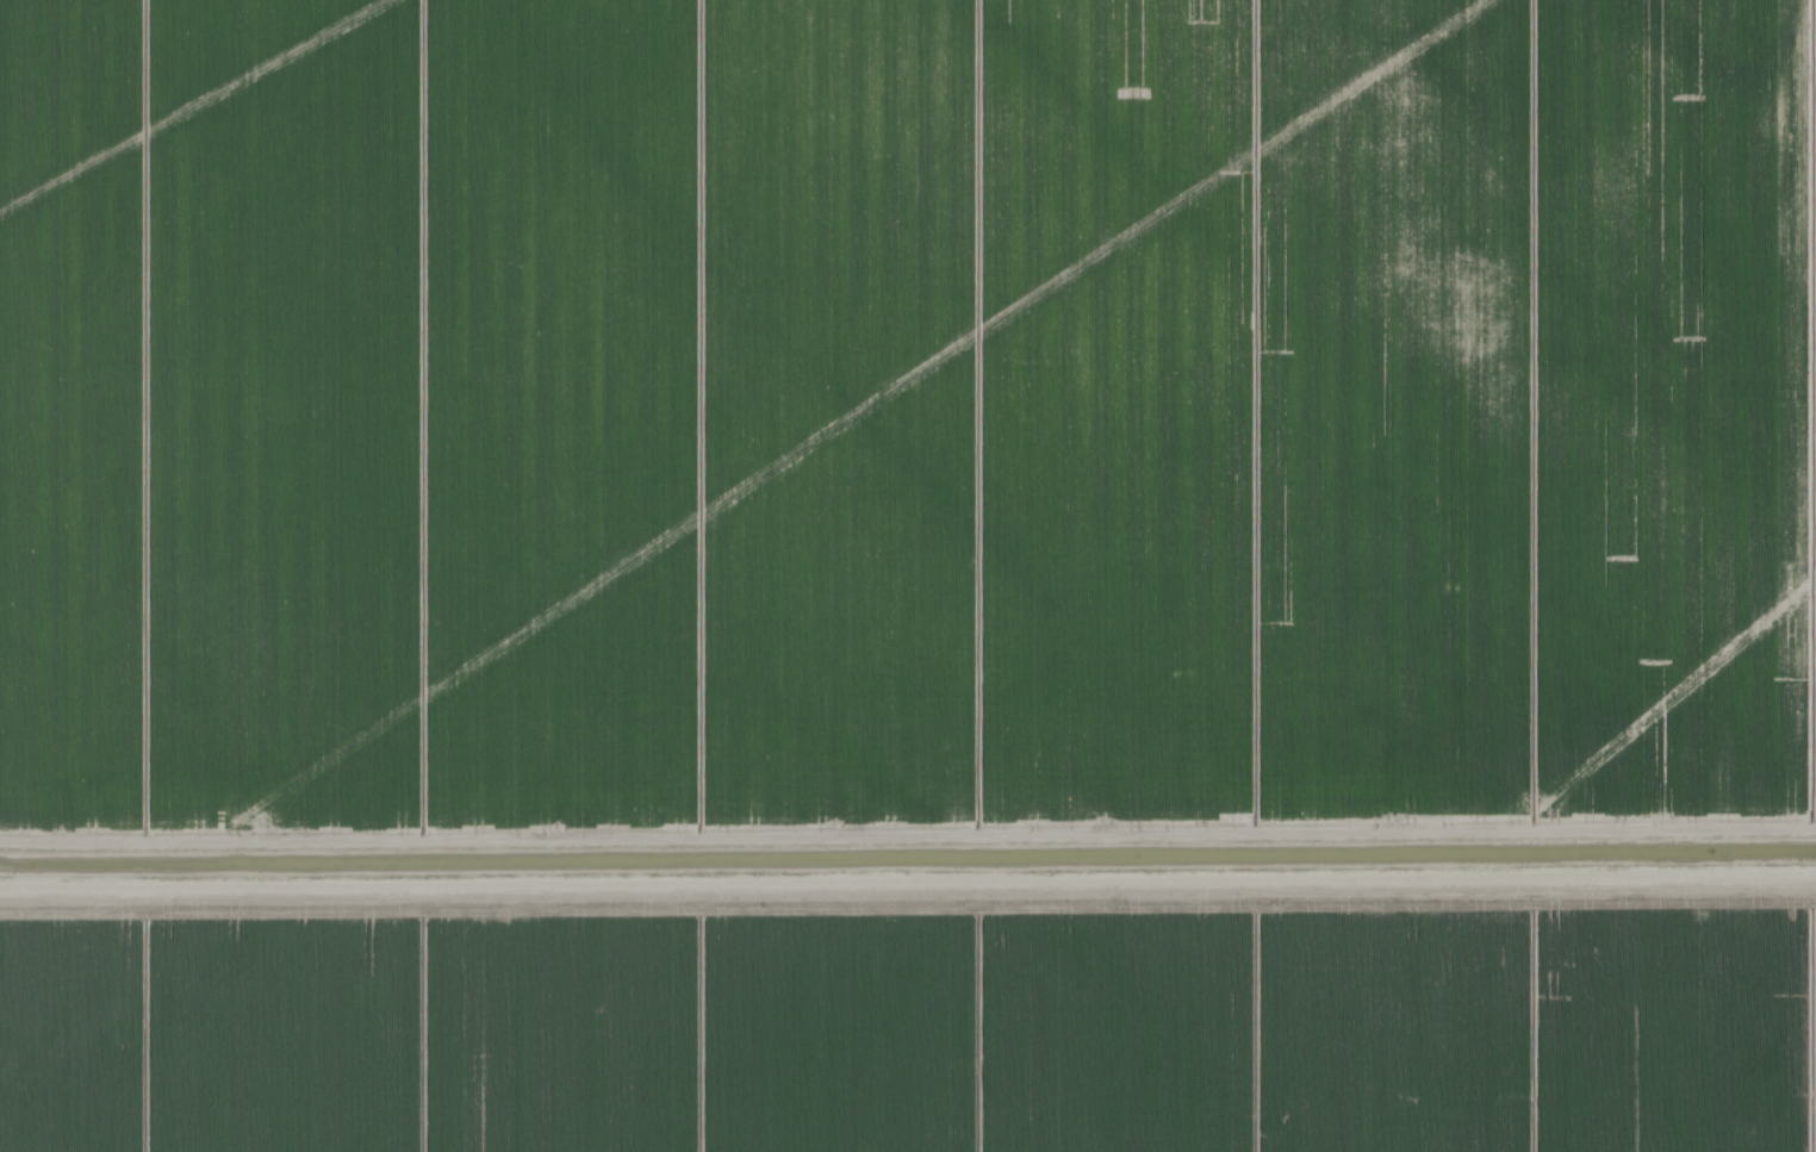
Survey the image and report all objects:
road: (908, 837)

